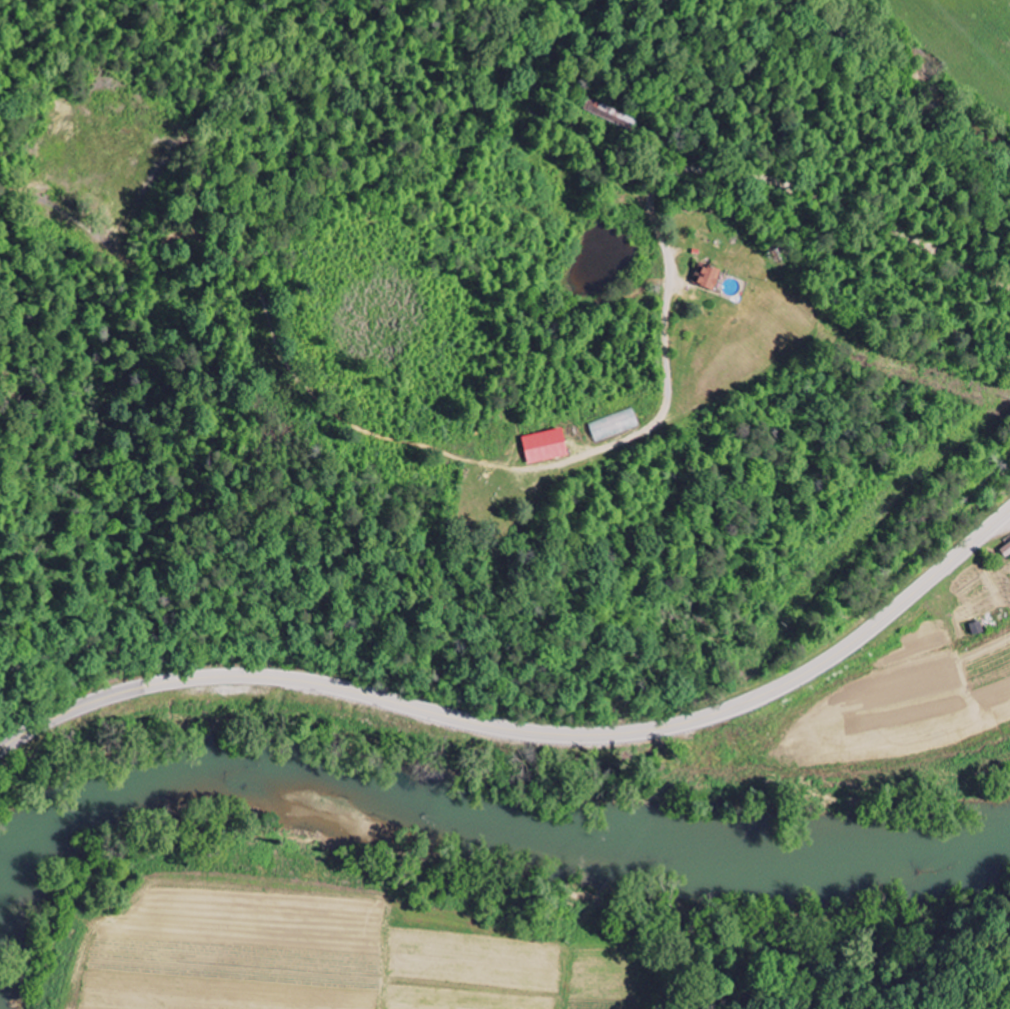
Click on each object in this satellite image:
road: (693, 171)
building: (703, 279)
building: (541, 447)
road: (565, 460)
road: (529, 731)
river: (491, 822)

